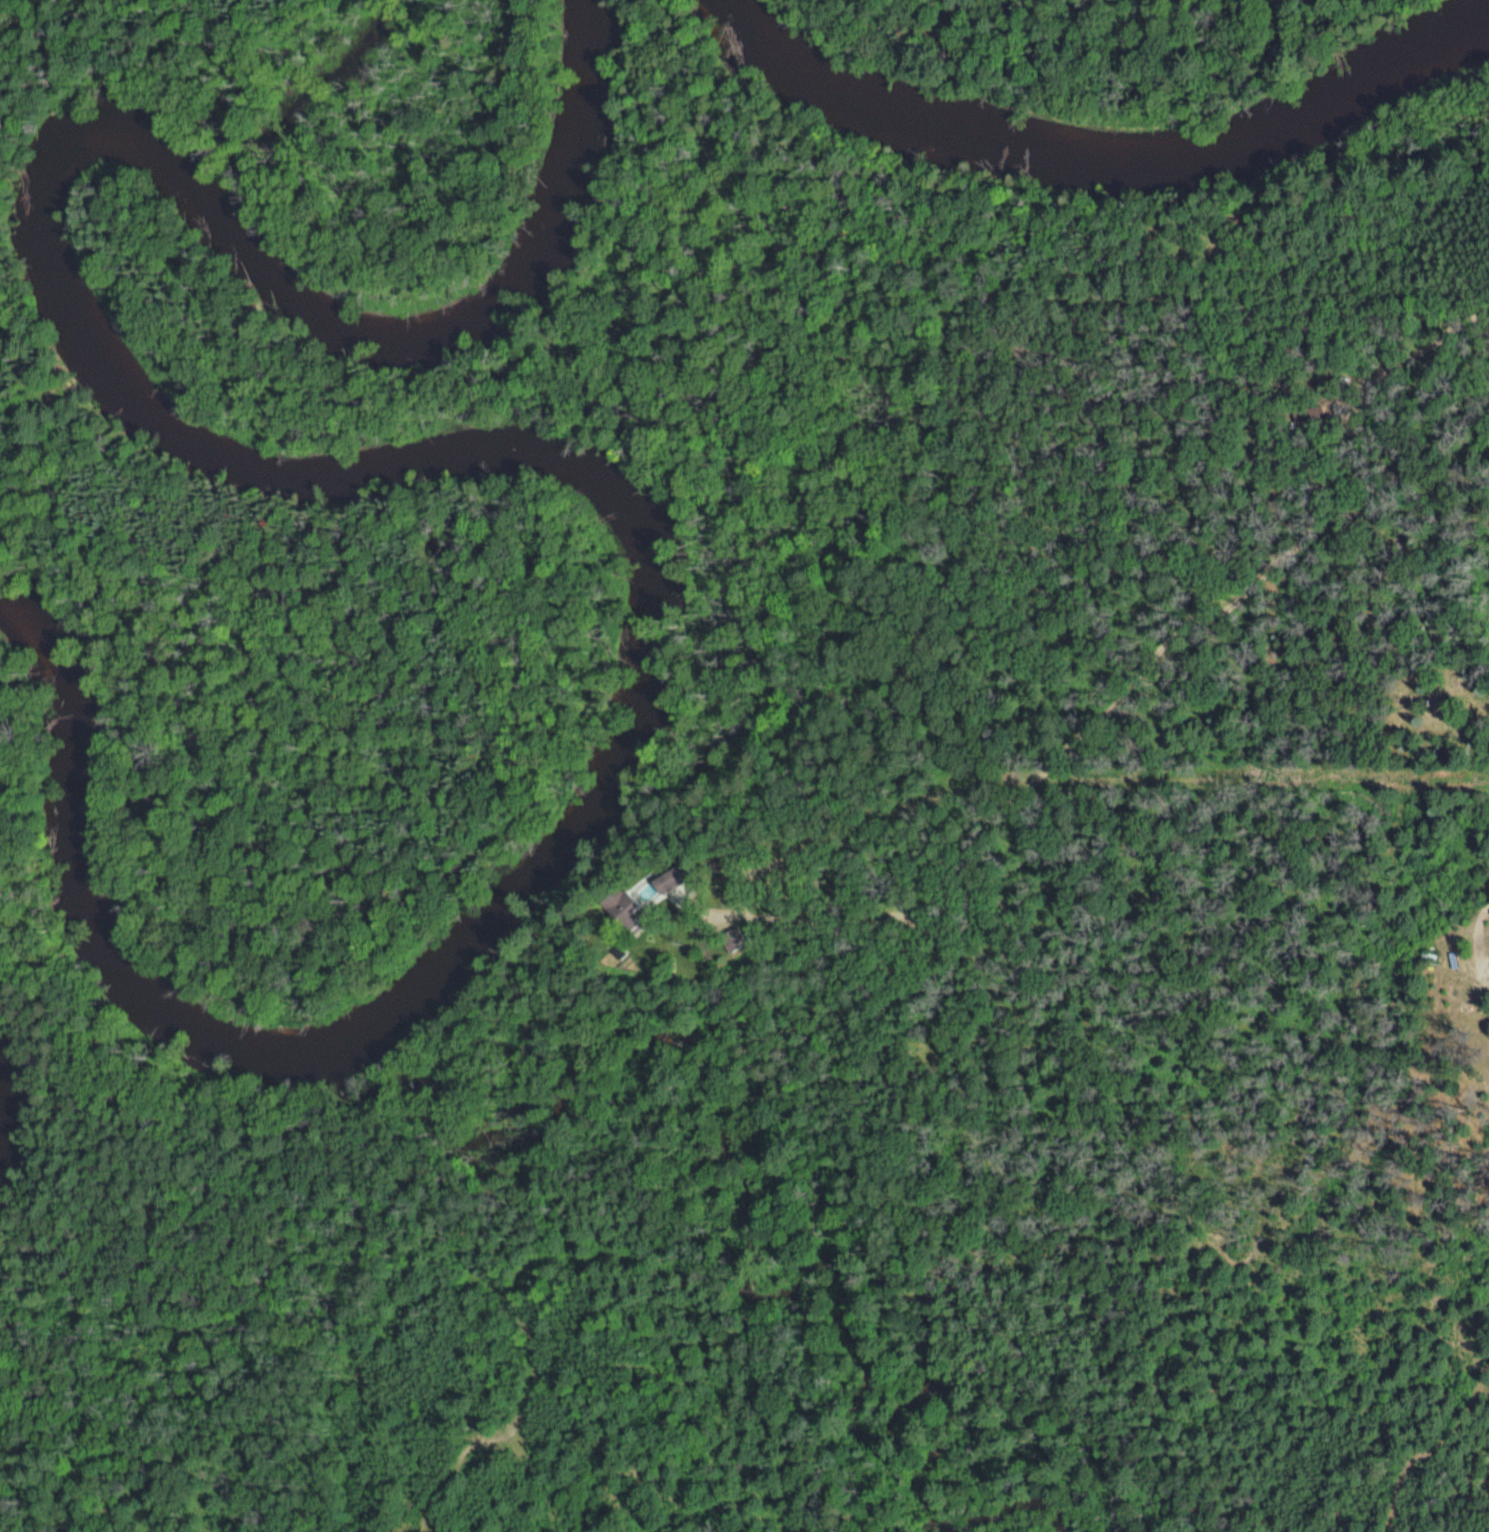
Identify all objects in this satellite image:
river: (1097, 156)
road: (1339, 354)
river: (458, 454)
road: (1469, 616)
road: (1139, 677)
building: (667, 880)
building: (615, 908)

